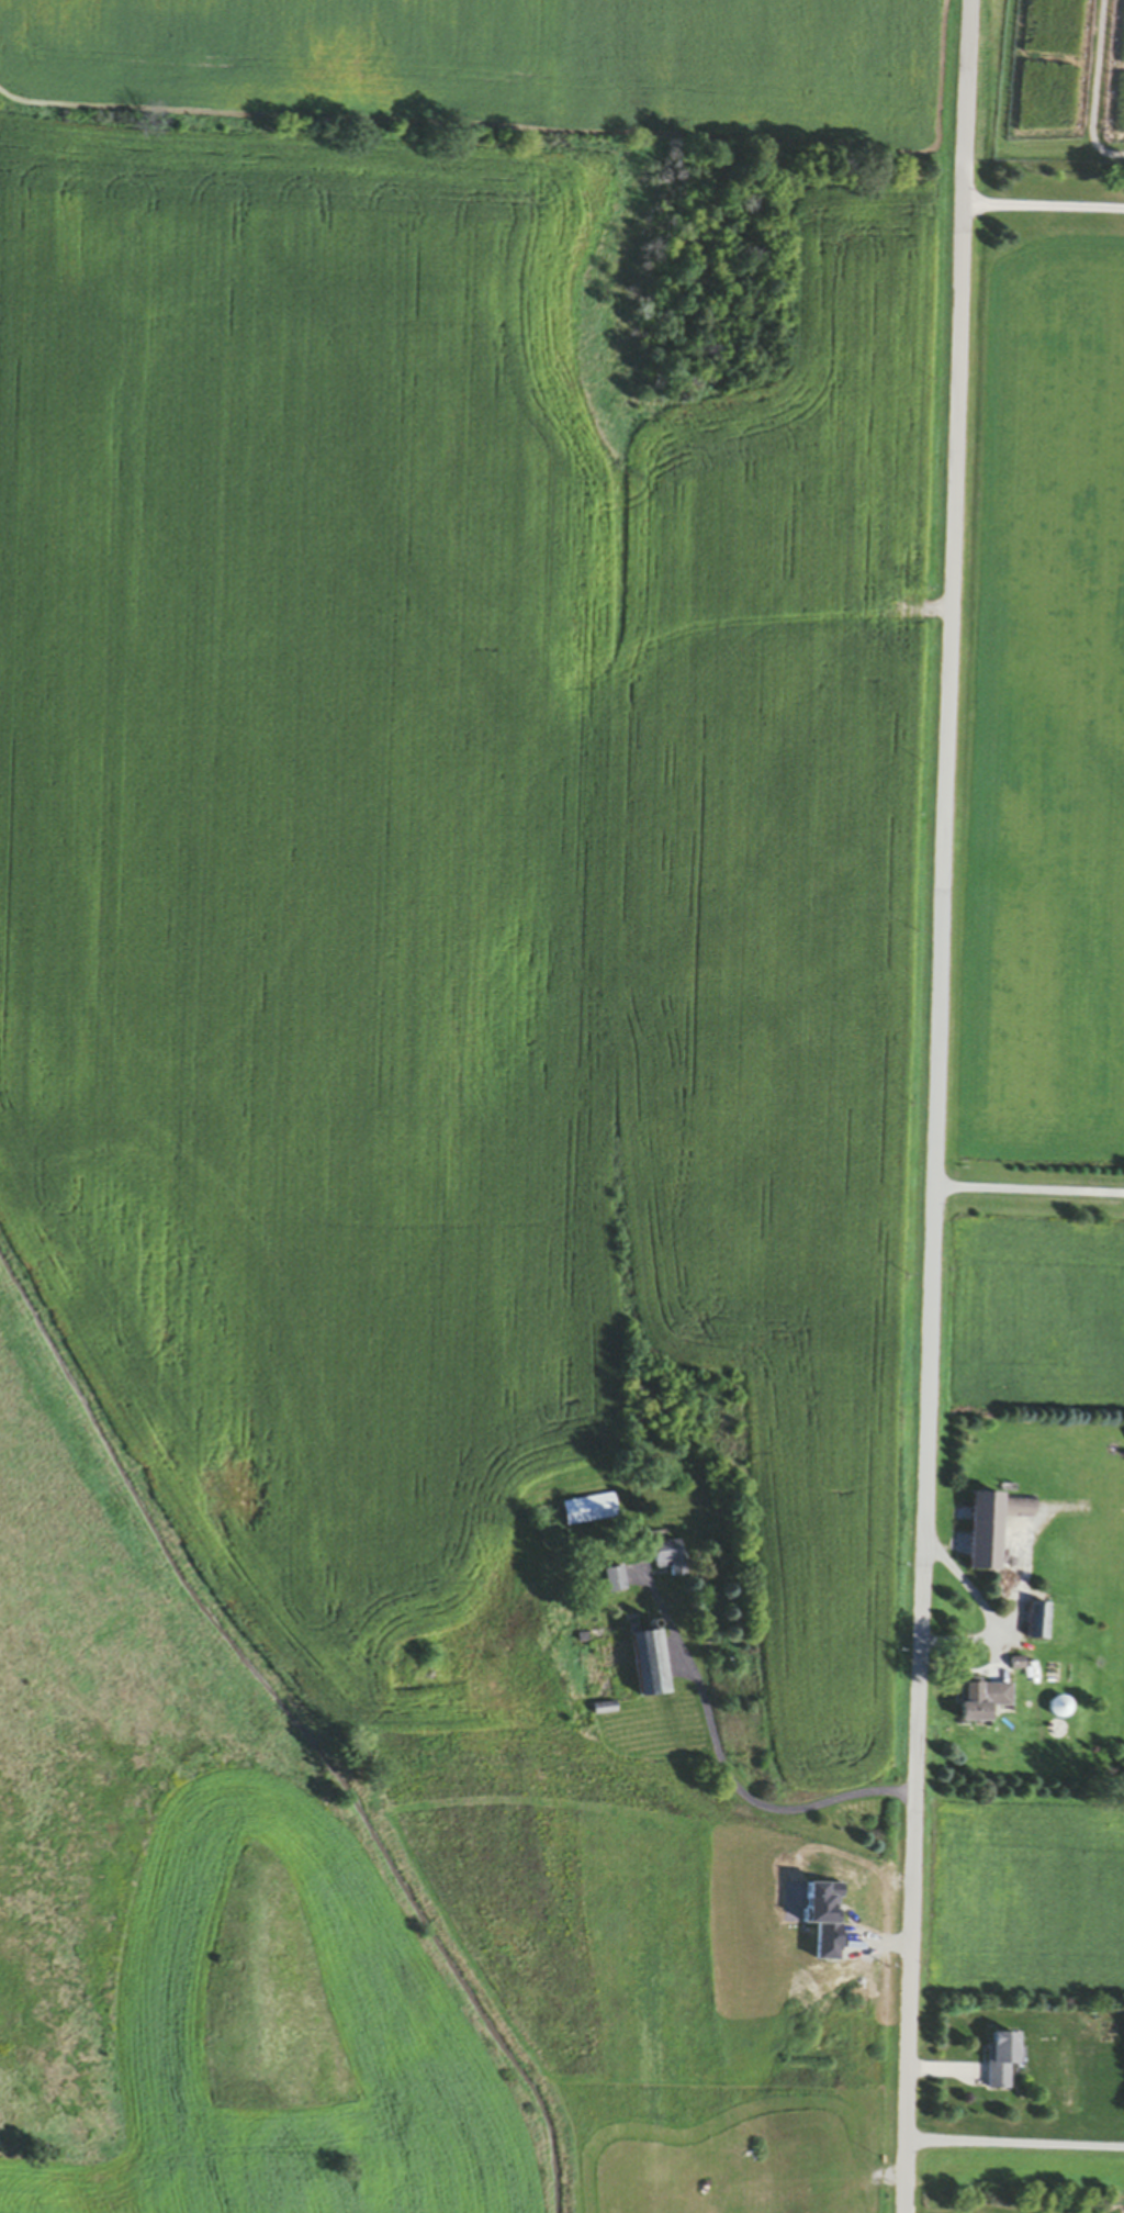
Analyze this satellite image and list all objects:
road: (1043, 215)
road: (935, 1106)
road: (1029, 1194)
building: (588, 1512)
building: (993, 1527)
building: (668, 1560)
building: (615, 1583)
building: (1041, 1620)
building: (650, 1665)
building: (1019, 1665)
building: (981, 1698)
building: (1061, 1707)
silo: (1061, 1707)
road: (722, 1770)
building: (1004, 2060)
road: (1016, 2145)

